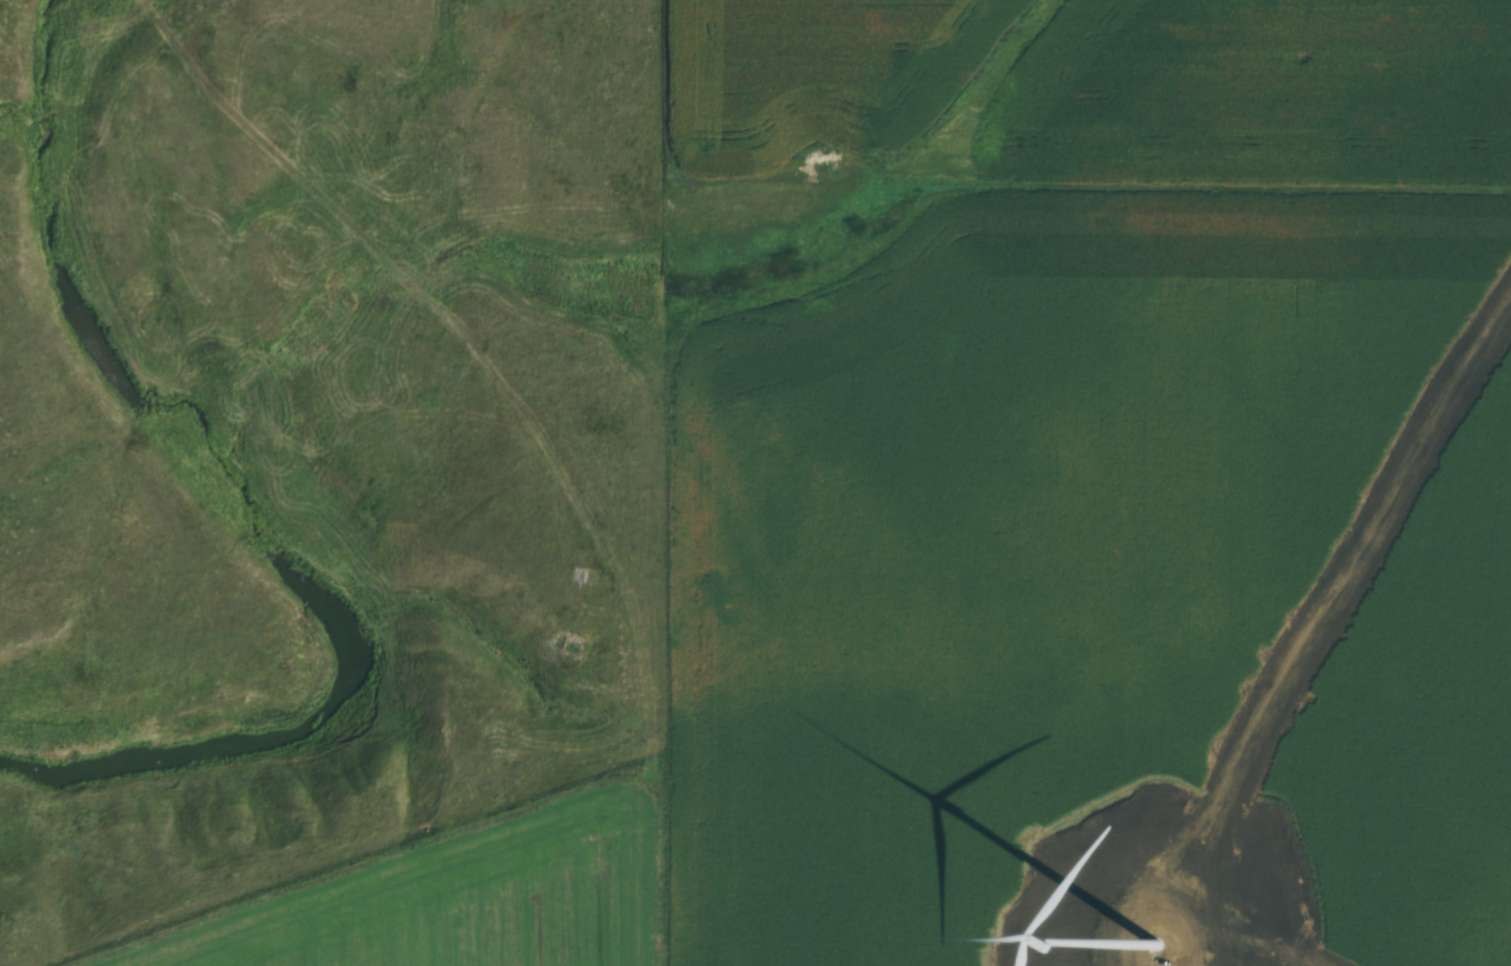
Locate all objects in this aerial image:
wind turbine: (1156, 944)

